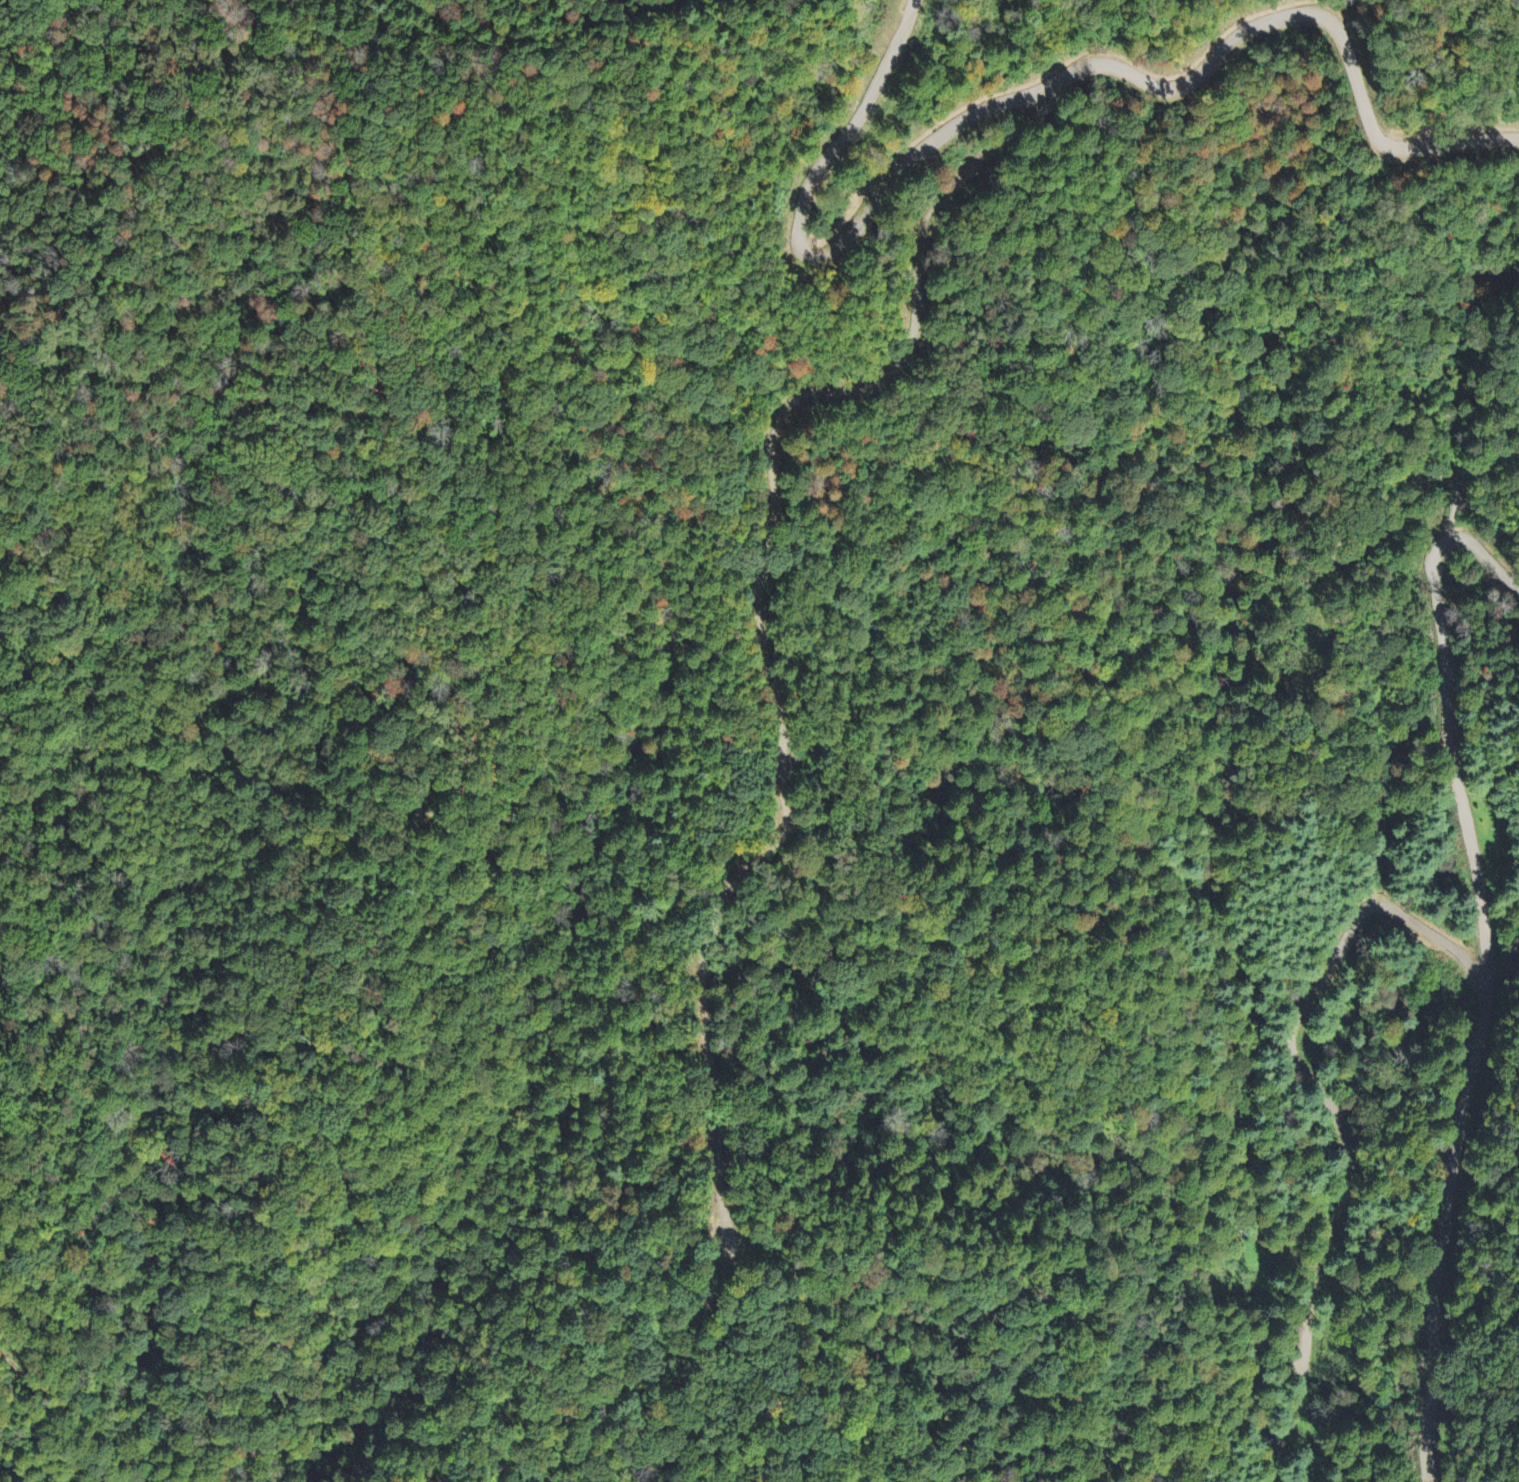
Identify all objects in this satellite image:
road: (1486, 965)

